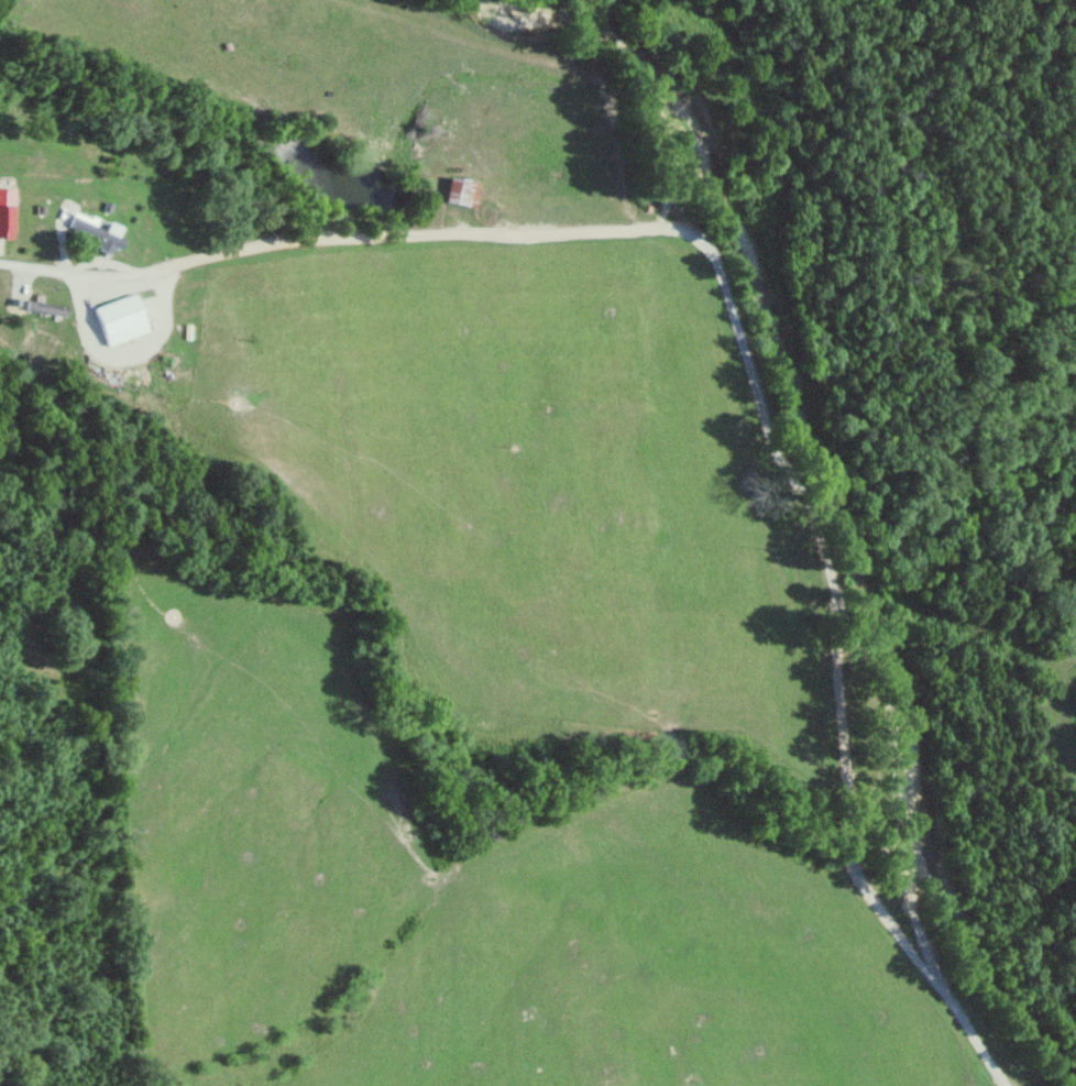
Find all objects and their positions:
building: (460, 191)
building: (7, 212)
building: (97, 232)
building: (119, 320)
road: (742, 332)

